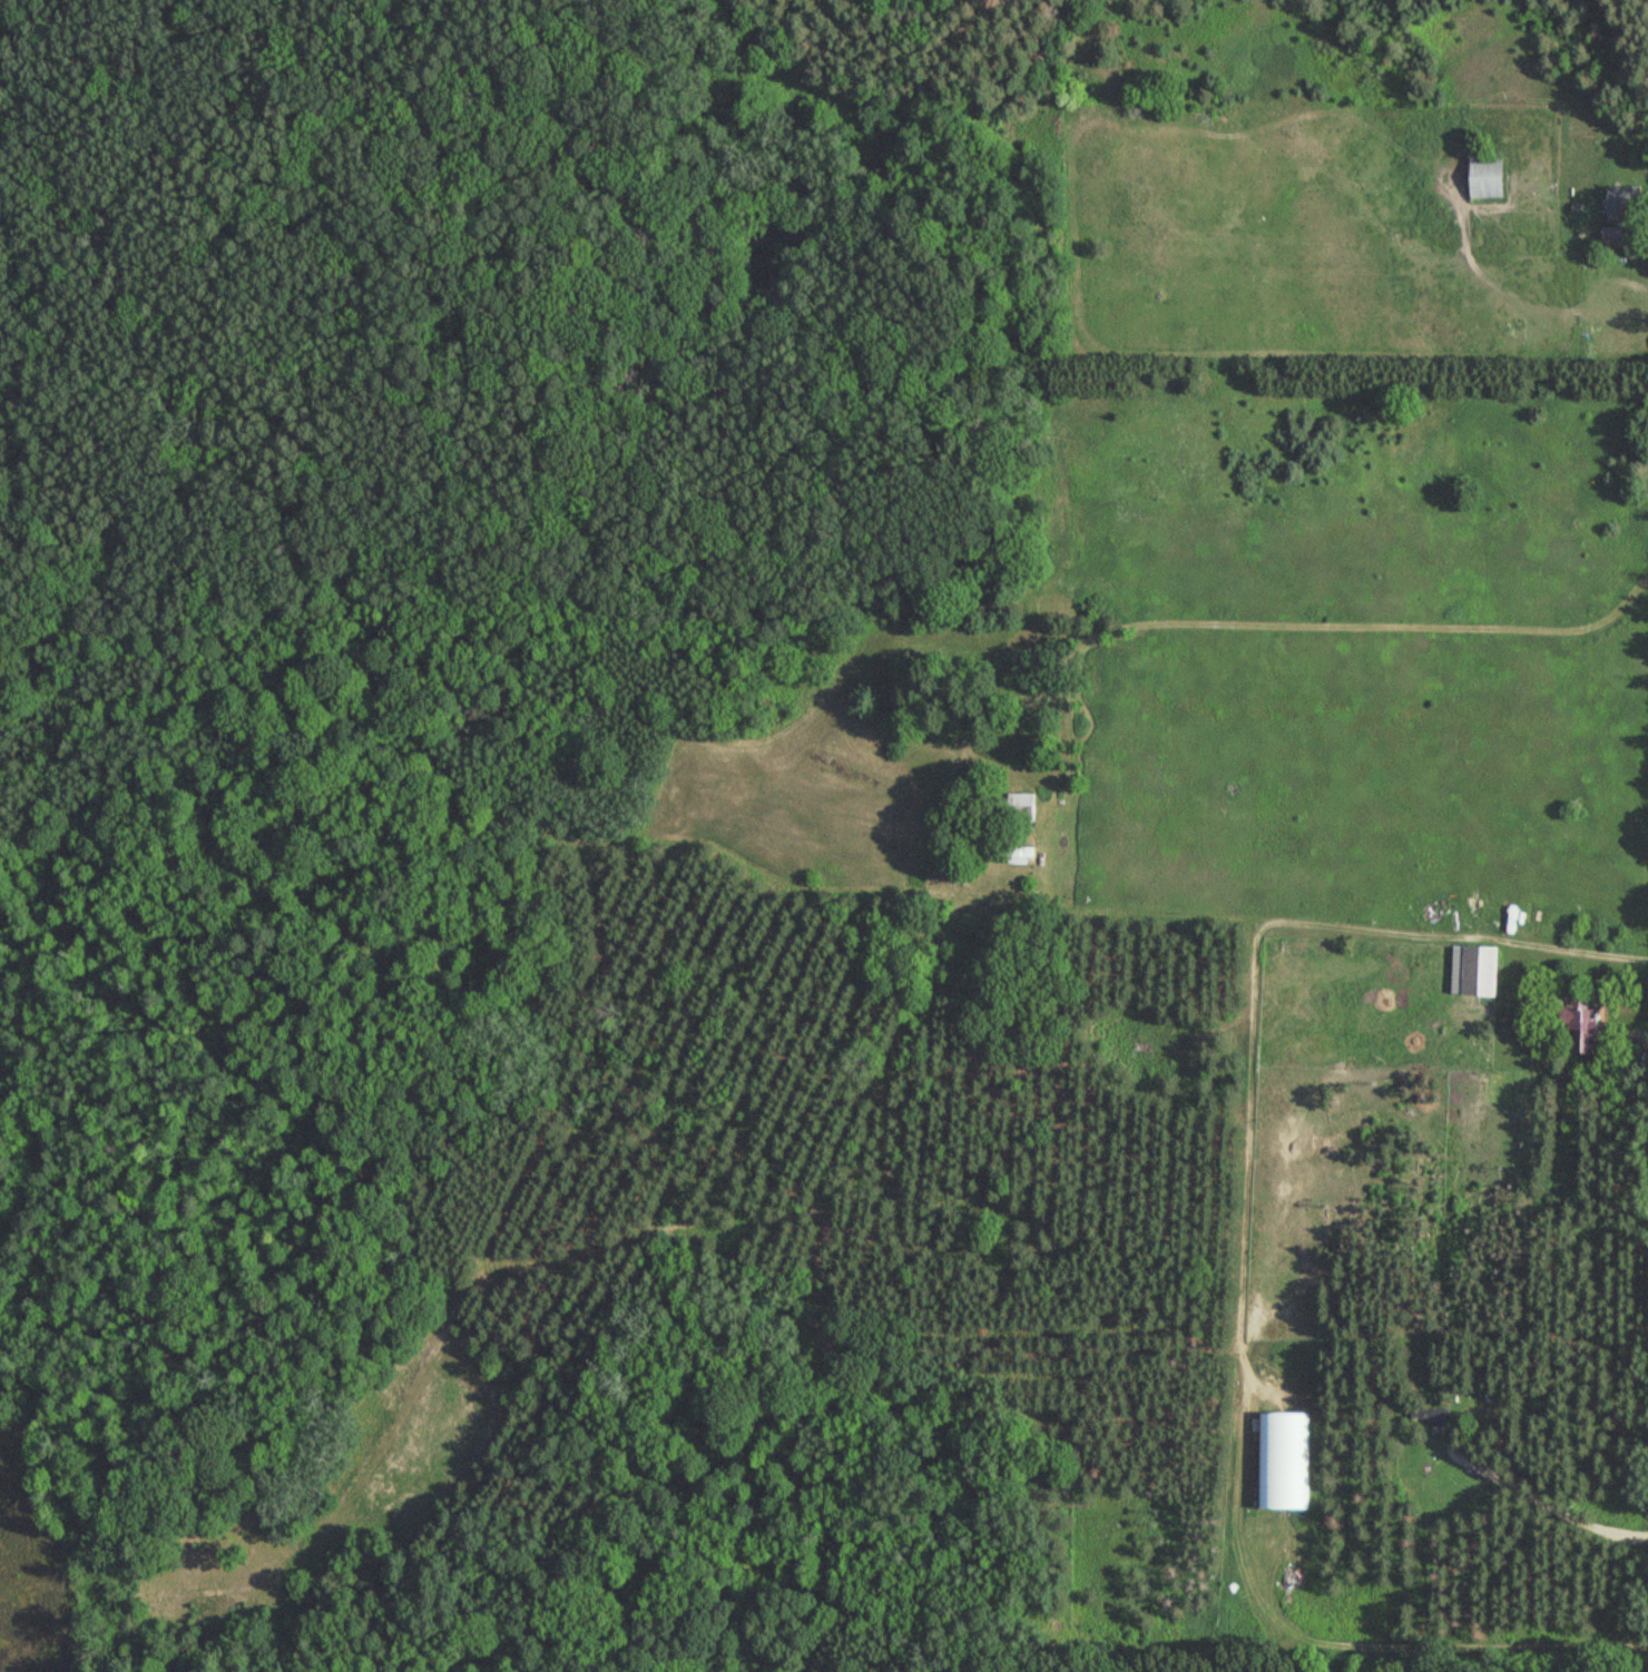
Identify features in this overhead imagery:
building: (1489, 177)
building: (1624, 199)
building: (1478, 970)
road: (1253, 1020)
building: (1583, 1031)
building: (1433, 1418)
building: (1284, 1460)

